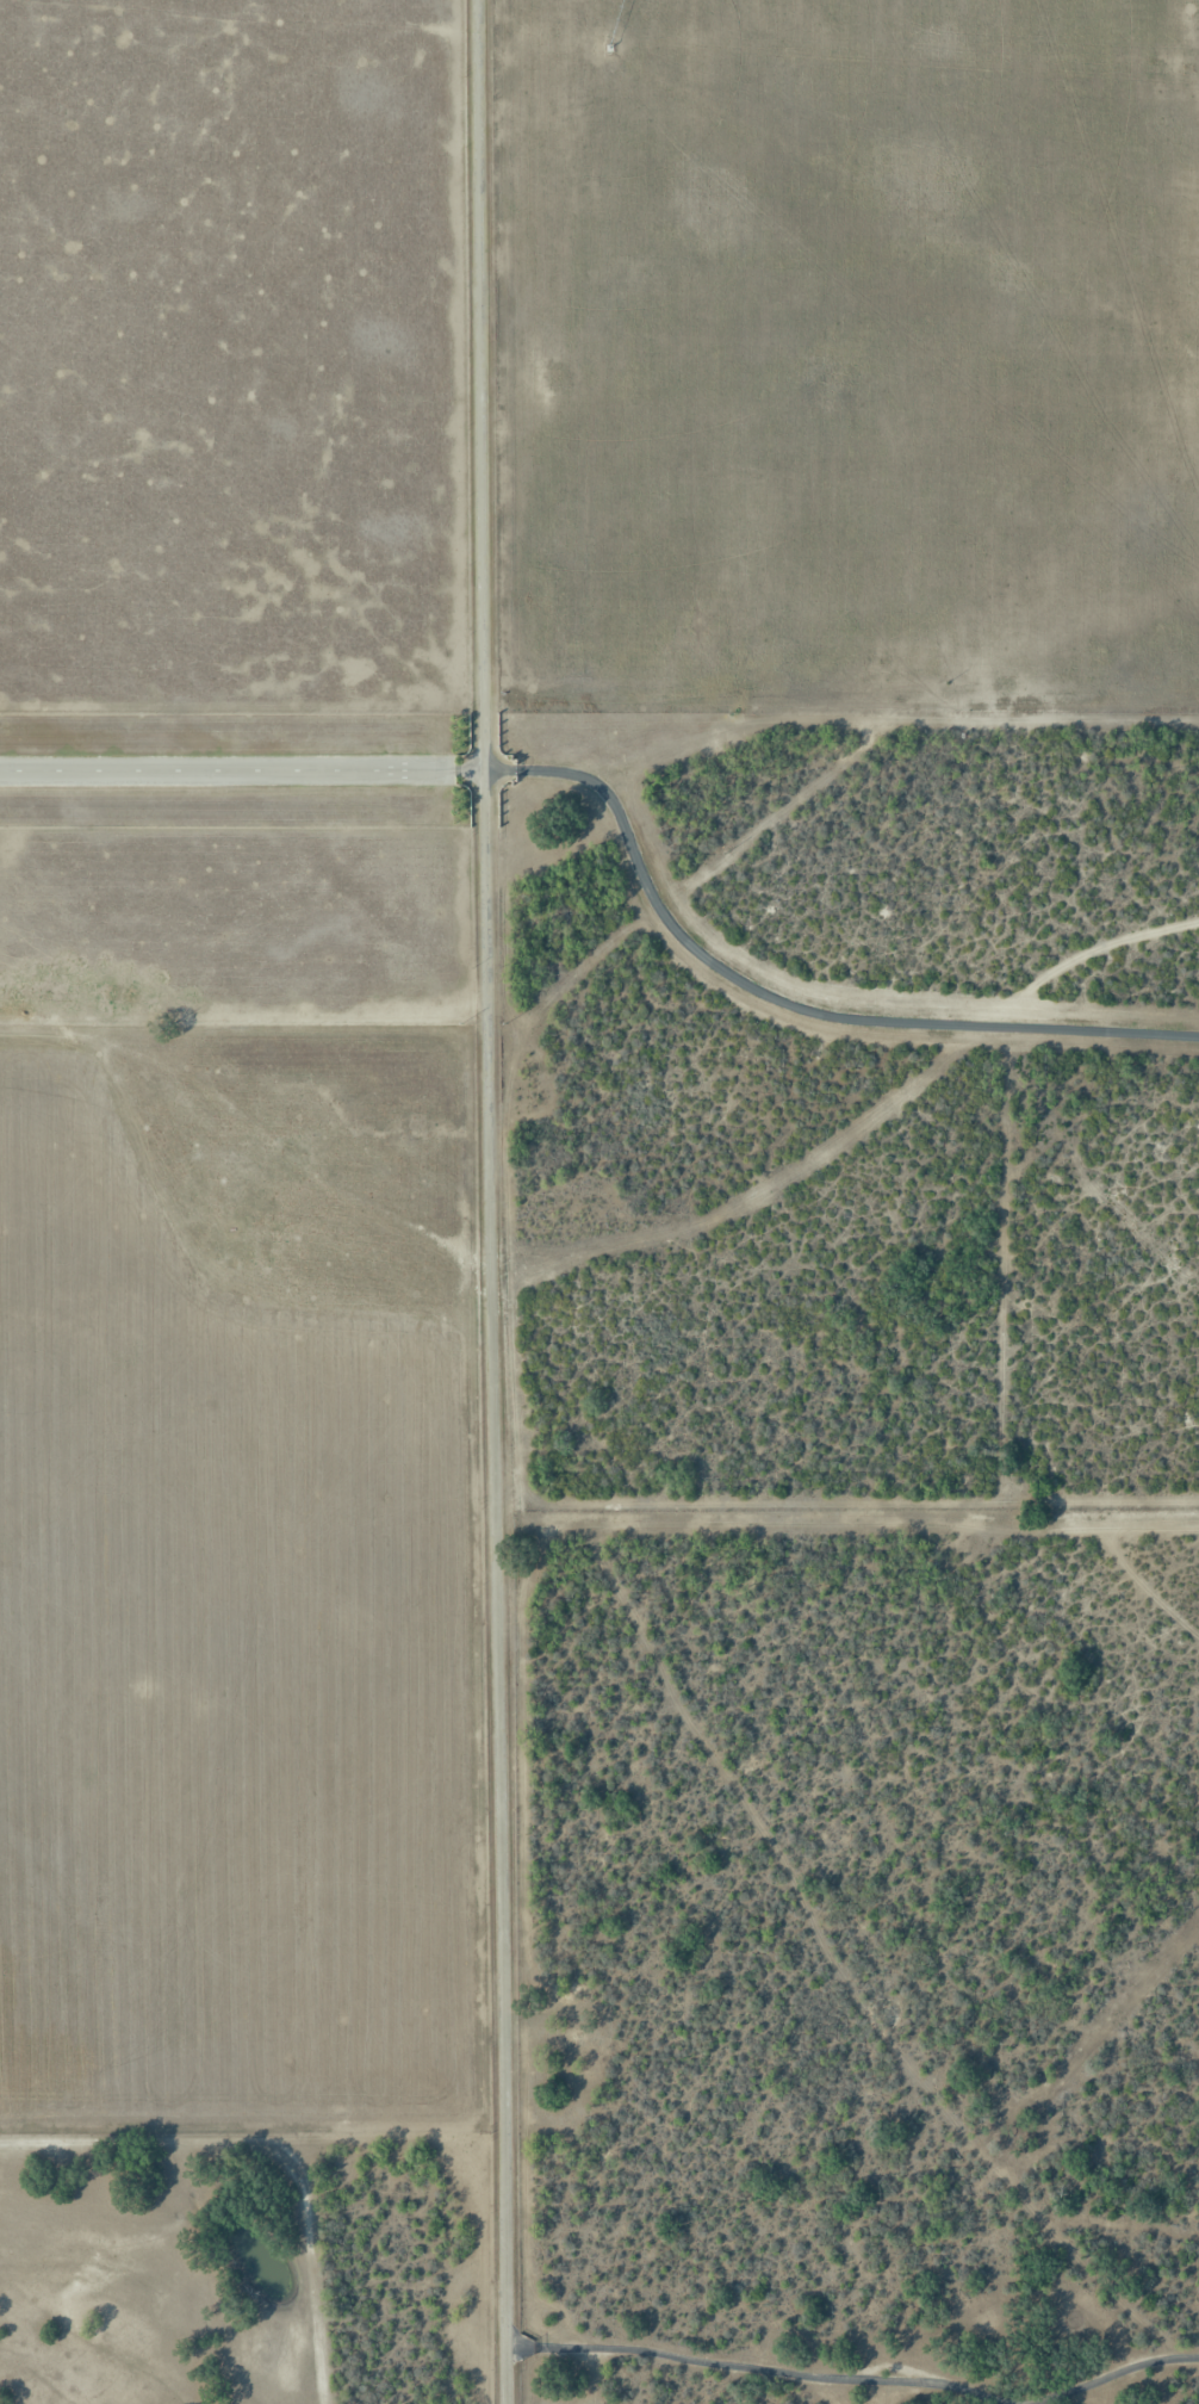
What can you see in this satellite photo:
airport runway: (192, 769)
road: (192, 769)
road: (1094, 958)
road: (740, 978)
road: (491, 1202)
road: (857, 2374)

